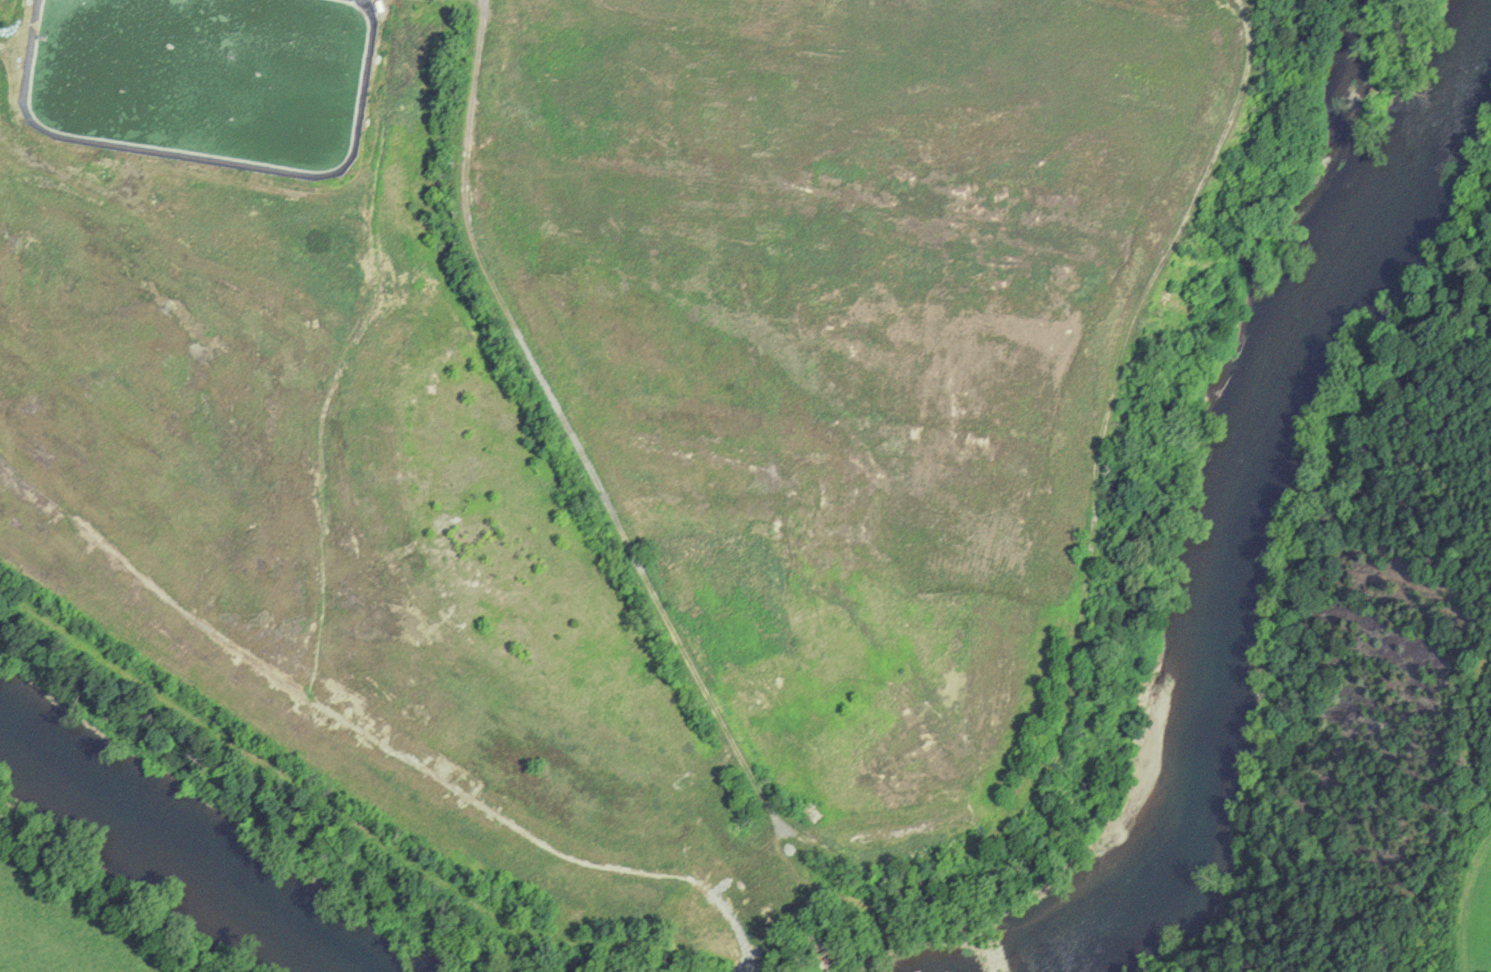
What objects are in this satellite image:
road: (566, 427)
wastewater plant: (625, 438)
river: (1246, 501)
river: (173, 850)
building: (813, 941)

